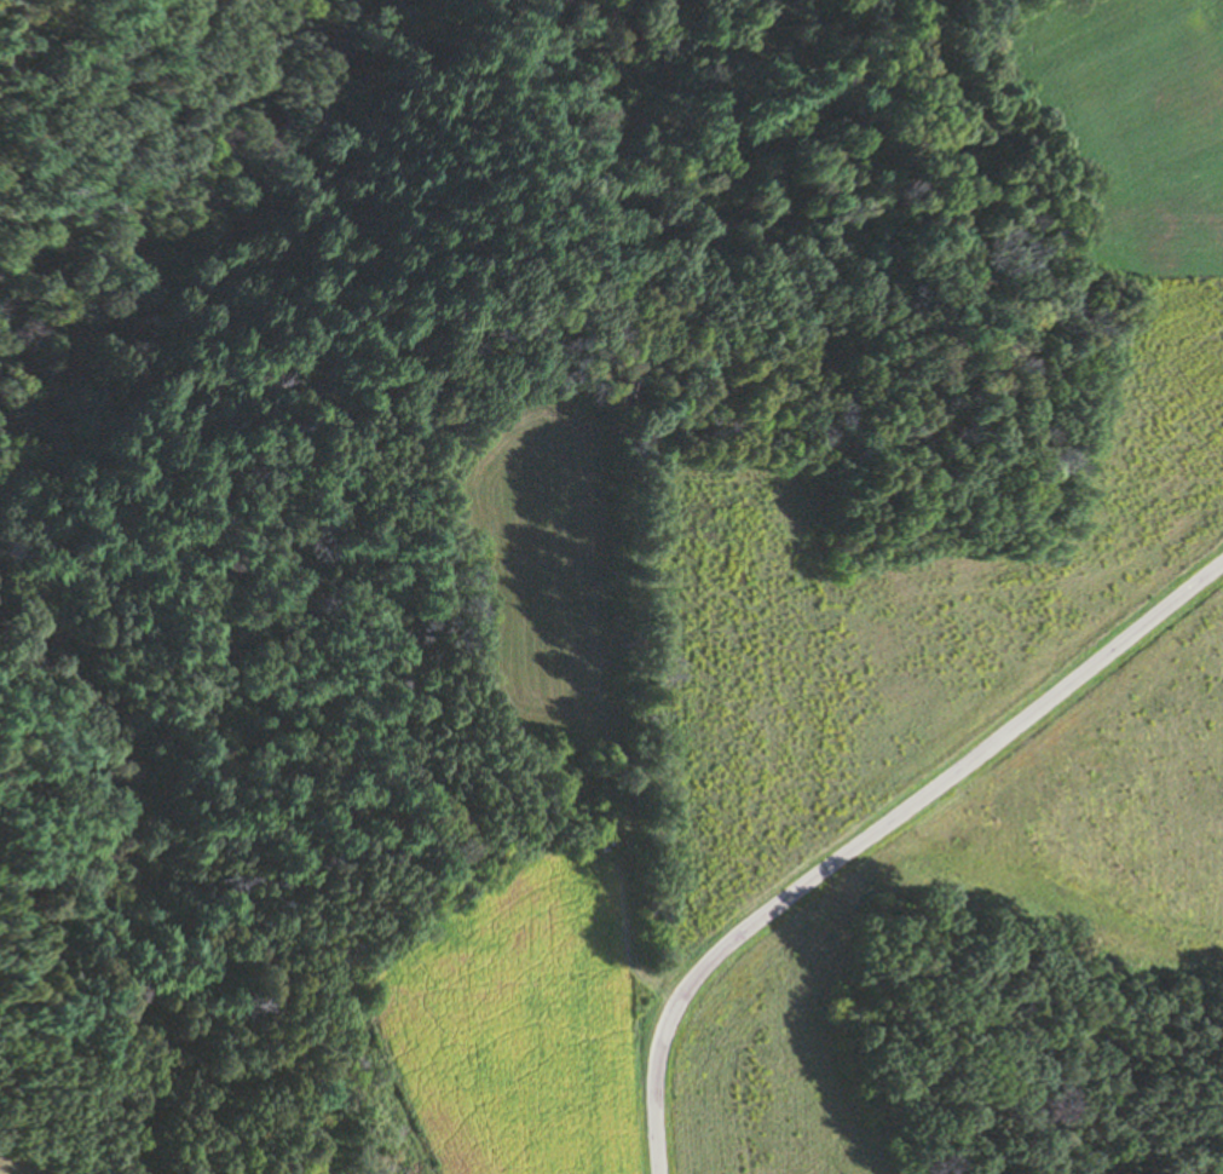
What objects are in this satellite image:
road: (877, 834)

